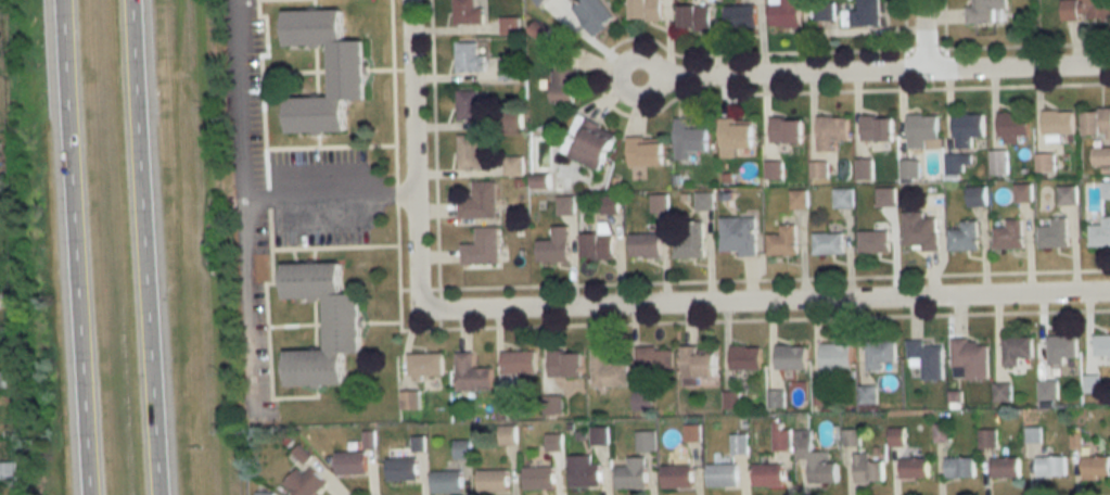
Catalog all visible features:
building: (537, 2)
building: (1083, 9)
building: (824, 10)
building: (985, 10)
building: (465, 12)
building: (647, 13)
building: (860, 13)
building: (783, 14)
building: (591, 15)
building: (739, 18)
building: (690, 21)
building: (510, 25)
road: (922, 33)
building: (467, 54)
road: (1017, 63)
building: (346, 69)
building: (509, 69)
road: (780, 71)
building: (562, 84)
building: (467, 103)
building: (1055, 119)
building: (1095, 120)
building: (1010, 125)
building: (873, 127)
building: (784, 128)
building: (920, 129)
building: (967, 129)
building: (829, 130)
building: (736, 136)
building: (688, 139)
building: (589, 144)
building: (643, 150)
building: (467, 152)
road: (411, 153)
building: (1100, 154)
building: (996, 161)
building: (1045, 163)
building: (512, 164)
building: (817, 167)
building: (775, 169)
building: (863, 169)
building: (909, 169)
building: (1105, 187)
building: (1021, 190)
building: (1064, 192)
building: (975, 193)
road: (327, 196)
building: (476, 196)
building: (884, 196)
building: (798, 198)
building: (841, 198)
building: (702, 201)
building: (607, 202)
building: (653, 203)
building: (565, 205)
road: (241, 207)
building: (1052, 230)
building: (1099, 230)
building: (919, 231)
building: (1007, 233)
building: (737, 236)
building: (962, 236)
building: (688, 238)
building: (780, 239)
building: (871, 240)
building: (827, 242)
building: (481, 243)
building: (594, 244)
building: (642, 244)
building: (554, 245)
road: (75, 247)
road: (144, 247)
road: (763, 297)
building: (342, 322)
building: (1100, 343)
building: (1061, 350)
building: (879, 353)
building: (1016, 353)
building: (741, 356)
building: (834, 356)
building: (928, 356)
building: (650, 357)
building: (789, 357)
building: (970, 358)
building: (516, 361)
building: (425, 364)
building: (693, 364)
building: (608, 369)
building: (470, 372)
building: (564, 372)
building: (0, 381)
building: (1087, 383)
building: (1046, 390)
building: (998, 393)
building: (867, 394)
building: (821, 396)
building: (410, 397)
building: (730, 398)
building: (777, 401)
building: (553, 404)
building: (691, 433)
building: (505, 434)
building: (596, 434)
building: (851, 436)
building: (894, 436)
building: (780, 437)
building: (368, 439)
building: (986, 439)
building: (643, 441)
building: (1074, 441)
building: (417, 443)
building: (738, 444)
building: (547, 446)
building: (461, 448)
building: (299, 453)
building: (813, 460)
building: (348, 462)
building: (1048, 466)
building: (1094, 466)
building: (1003, 467)
building: (866, 468)
building: (911, 468)
building: (959, 468)
building: (7, 470)
building: (398, 470)
building: (582, 471)
building: (629, 473)
building: (720, 474)
building: (767, 474)
building: (674, 477)
building: (535, 478)
building: (490, 480)
building: (443, 481)
building: (303, 482)
building: (263, 494)

